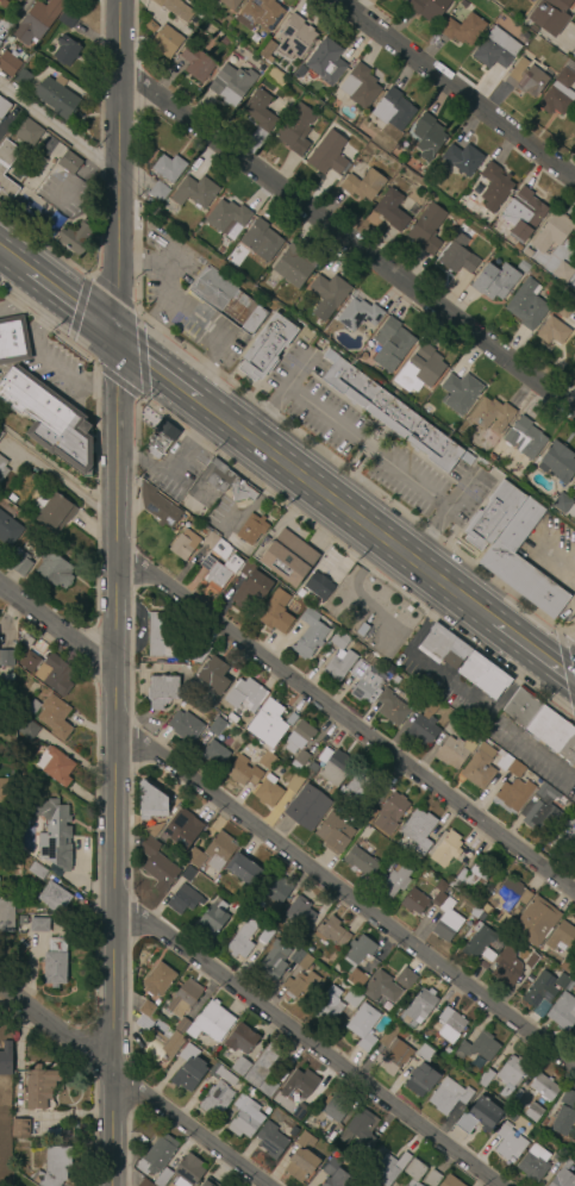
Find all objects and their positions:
building: (18, 0)
building: (399, 0)
building: (402, 0)
building: (530, 1)
building: (2, 2)
building: (231, 4)
building: (174, 8)
building: (427, 8)
building: (261, 14)
building: (550, 15)
building: (37, 20)
building: (68, 20)
building: (463, 30)
building: (295, 38)
building: (165, 42)
building: (225, 42)
building: (495, 49)
building: (65, 50)
building: (268, 50)
building: (196, 63)
building: (326, 63)
building: (8, 64)
building: (300, 73)
building: (21, 77)
building: (527, 77)
building: (231, 85)
building: (360, 86)
road: (452, 89)
building: (560, 92)
building: (57, 96)
building: (4, 107)
building: (260, 111)
building: (393, 111)
building: (295, 129)
road: (58, 130)
building: (26, 132)
building: (427, 136)
building: (329, 155)
building: (462, 160)
building: (69, 163)
building: (6, 164)
road: (117, 168)
building: (168, 168)
building: (365, 185)
building: (454, 187)
building: (494, 187)
building: (160, 192)
building: (194, 192)
building: (435, 198)
building: (390, 210)
building: (523, 214)
building: (226, 216)
building: (52, 225)
building: (426, 229)
building: (551, 233)
building: (75, 239)
building: (261, 241)
road: (346, 242)
building: (457, 256)
road: (12, 260)
building: (201, 262)
building: (294, 267)
building: (524, 267)
building: (563, 273)
building: (495, 281)
road: (170, 293)
road: (115, 294)
building: (327, 294)
parking lot: (183, 300)
road: (69, 302)
building: (226, 304)
building: (526, 304)
building: (564, 305)
road: (76, 308)
road: (48, 314)
building: (358, 314)
building: (552, 332)
traffic signals: (114, 337)
building: (13, 341)
road: (220, 342)
building: (390, 344)
building: (265, 350)
road: (140, 358)
road: (54, 363)
parking lot: (56, 368)
road: (157, 368)
building: (420, 369)
road: (293, 376)
road: (117, 383)
road: (99, 393)
building: (460, 393)
building: (427, 410)
road: (264, 416)
building: (490, 416)
building: (394, 417)
building: (49, 419)
road: (201, 430)
building: (0, 433)
building: (160, 438)
building: (525, 438)
parking lot: (371, 444)
road: (368, 447)
road: (132, 455)
building: (558, 462)
building: (2, 468)
parking lot: (173, 468)
road: (174, 473)
road: (61, 479)
building: (229, 483)
road: (457, 494)
building: (12, 499)
building: (561, 504)
building: (157, 506)
road: (345, 510)
building: (55, 513)
parking lot: (223, 518)
building: (8, 529)
building: (251, 529)
road: (426, 537)
building: (185, 544)
building: (215, 545)
building: (512, 549)
building: (288, 558)
building: (19, 562)
building: (55, 569)
building: (220, 572)
building: (319, 586)
building: (251, 587)
building: (300, 594)
building: (276, 612)
road: (426, 622)
road: (57, 624)
building: (362, 630)
building: (310, 633)
road: (569, 635)
building: (163, 636)
building: (339, 641)
building: (442, 645)
road: (533, 651)
building: (194, 654)
building: (7, 657)
building: (30, 661)
building: (338, 666)
road: (567, 668)
building: (56, 674)
building: (214, 674)
building: (482, 674)
building: (8, 678)
building: (395, 680)
building: (364, 683)
road: (444, 683)
parking lot: (446, 687)
road: (512, 687)
building: (162, 691)
building: (245, 694)
building: (33, 706)
building: (392, 709)
building: (55, 717)
building: (231, 717)
building: (292, 719)
building: (267, 724)
road: (348, 724)
building: (424, 724)
building: (543, 724)
building: (185, 726)
building: (217, 726)
building: (454, 726)
building: (29, 729)
building: (299, 737)
building: (455, 751)
building: (214, 754)
building: (321, 757)
parking lot: (533, 757)
road: (537, 759)
building: (265, 760)
road: (114, 761)
building: (300, 761)
building: (510, 764)
building: (55, 766)
building: (312, 767)
building: (479, 767)
building: (336, 768)
building: (243, 773)
building: (295, 782)
building: (358, 784)
building: (5, 791)
building: (268, 791)
building: (513, 793)
building: (151, 801)
building: (307, 807)
building: (540, 810)
building: (389, 813)
building: (368, 816)
building: (183, 828)
building: (152, 830)
building: (417, 831)
building: (52, 832)
building: (335, 832)
building: (563, 836)
building: (446, 850)
building: (218, 851)
building: (194, 859)
building: (360, 863)
building: (157, 866)
building: (37, 870)
building: (243, 870)
building: (188, 874)
building: (471, 876)
building: (393, 881)
building: (279, 889)
building: (510, 895)
building: (54, 898)
building: (183, 899)
road: (348, 899)
building: (438, 899)
building: (413, 901)
building: (7, 912)
building: (300, 912)
building: (475, 913)
building: (482, 917)
building: (536, 918)
building: (211, 919)
building: (507, 919)
building: (446, 923)
building: (38, 925)
building: (332, 932)
building: (265, 936)
building: (562, 937)
building: (299, 938)
building: (242, 941)
building: (480, 945)
building: (360, 949)
building: (300, 960)
building: (531, 961)
building: (273, 962)
building: (506, 966)
building: (567, 967)
building: (56, 969)
building: (357, 979)
building: (405, 979)
building: (158, 980)
building: (300, 985)
building: (380, 987)
building: (543, 991)
building: (182, 998)
building: (352, 999)
building: (156, 1003)
building: (327, 1006)
building: (386, 1006)
building: (418, 1009)
building: (563, 1011)
building: (211, 1023)
building: (362, 1025)
building: (450, 1025)
building: (182, 1026)
building: (157, 1035)
building: (240, 1040)
road: (312, 1045)
building: (477, 1047)
building: (395, 1049)
building: (448, 1053)
building: (425, 1054)
building: (6, 1059)
building: (240, 1067)
building: (188, 1069)
building: (264, 1070)
building: (220, 1074)
building: (511, 1074)
building: (485, 1078)
building: (420, 1080)
building: (301, 1084)
building: (39, 1086)
road: (132, 1086)
building: (543, 1088)
building: (250, 1092)
building: (449, 1096)
building: (217, 1099)
building: (568, 1099)
building: (333, 1109)
building: (299, 1112)
building: (533, 1112)
building: (477, 1116)
building: (245, 1117)
building: (562, 1122)
building: (19, 1128)
building: (361, 1129)
building: (304, 1140)
building: (271, 1141)
building: (508, 1144)
building: (560, 1154)
building: (157, 1155)
building: (357, 1155)
building: (300, 1165)
building: (533, 1165)
building: (54, 1167)
building: (387, 1168)
building: (189, 1171)
building: (414, 1172)
building: (336, 1174)
building: (163, 1178)
building: (432, 1179)
building: (563, 1179)
building: (450, 1181)
building: (207, 1182)
building: (365, 1182)
building: (145, 1184)

